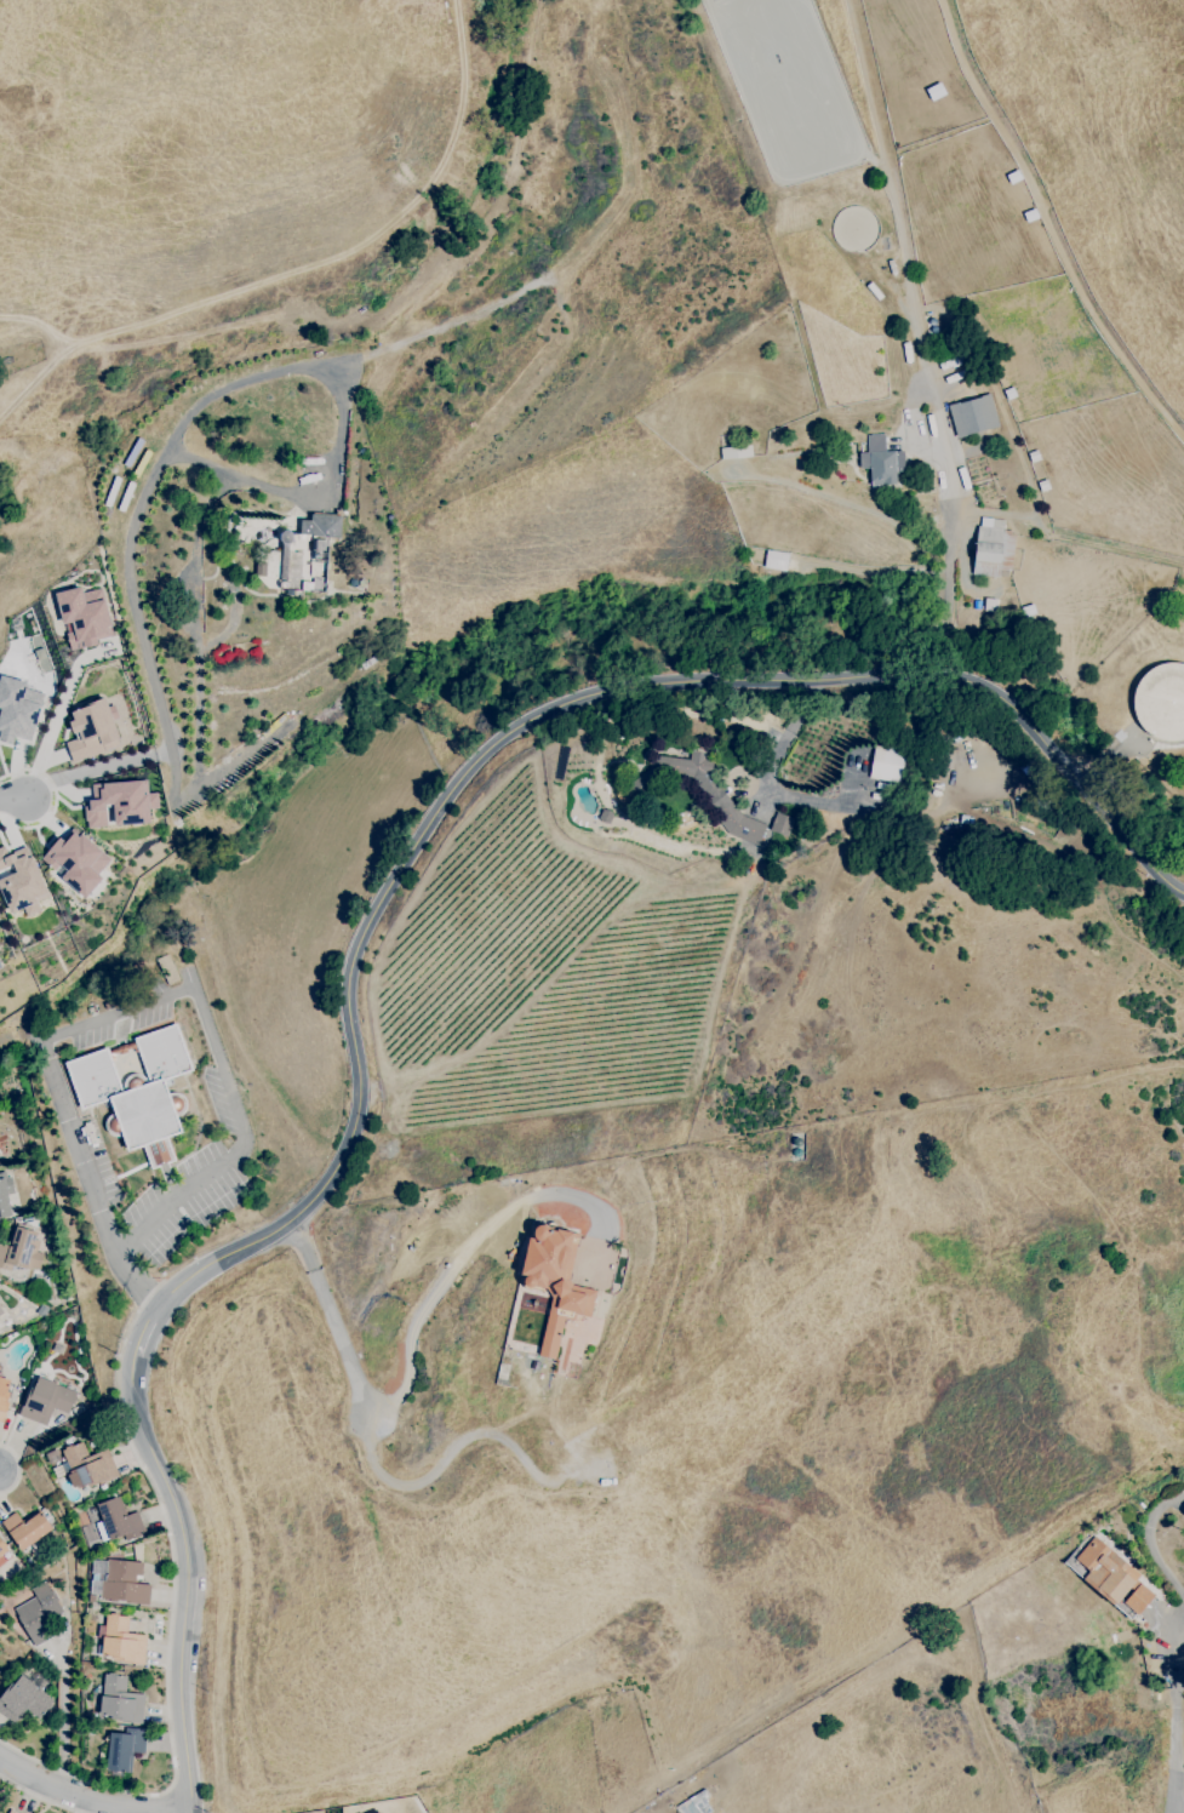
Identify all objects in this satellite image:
building: (972, 416)
building: (880, 461)
road: (144, 497)
road: (293, 497)
building: (993, 548)
building: (776, 560)
building: (84, 616)
building: (1161, 702)
building: (18, 710)
road: (58, 710)
road: (533, 717)
building: (91, 731)
road: (784, 740)
building: (886, 766)
road: (97, 768)
road: (13, 797)
road: (51, 800)
building: (118, 805)
building: (780, 824)
building: (76, 863)
building: (19, 882)
road: (221, 1066)
building: (137, 1092)
building: (16, 1114)
road: (86, 1178)
building: (5, 1195)
building: (27, 1220)
road: (302, 1243)
building: (21, 1249)
road: (451, 1268)
building: (554, 1281)
building: (1, 1311)
building: (7, 1322)
road: (147, 1329)
road: (343, 1343)
building: (19, 1382)
building: (4, 1397)
building: (46, 1401)
building: (12, 1408)
building: (78, 1409)
building: (68, 1442)
building: (53, 1457)
building: (87, 1466)
road: (18, 1470)
building: (93, 1510)
building: (1183, 1514)
building: (118, 1521)
building: (29, 1534)
building: (2, 1548)
building: (120, 1582)
road: (187, 1582)
road: (1180, 1585)
building: (91, 1598)
building: (38, 1612)
road: (171, 1614)
building: (102, 1620)
building: (121, 1641)
building: (23, 1700)
building: (121, 1700)
road: (63, 1716)
building: (125, 1748)
road: (1179, 1755)
road: (81, 1796)
road: (40, 1797)
road: (1182, 1811)
building: (13, 1812)

